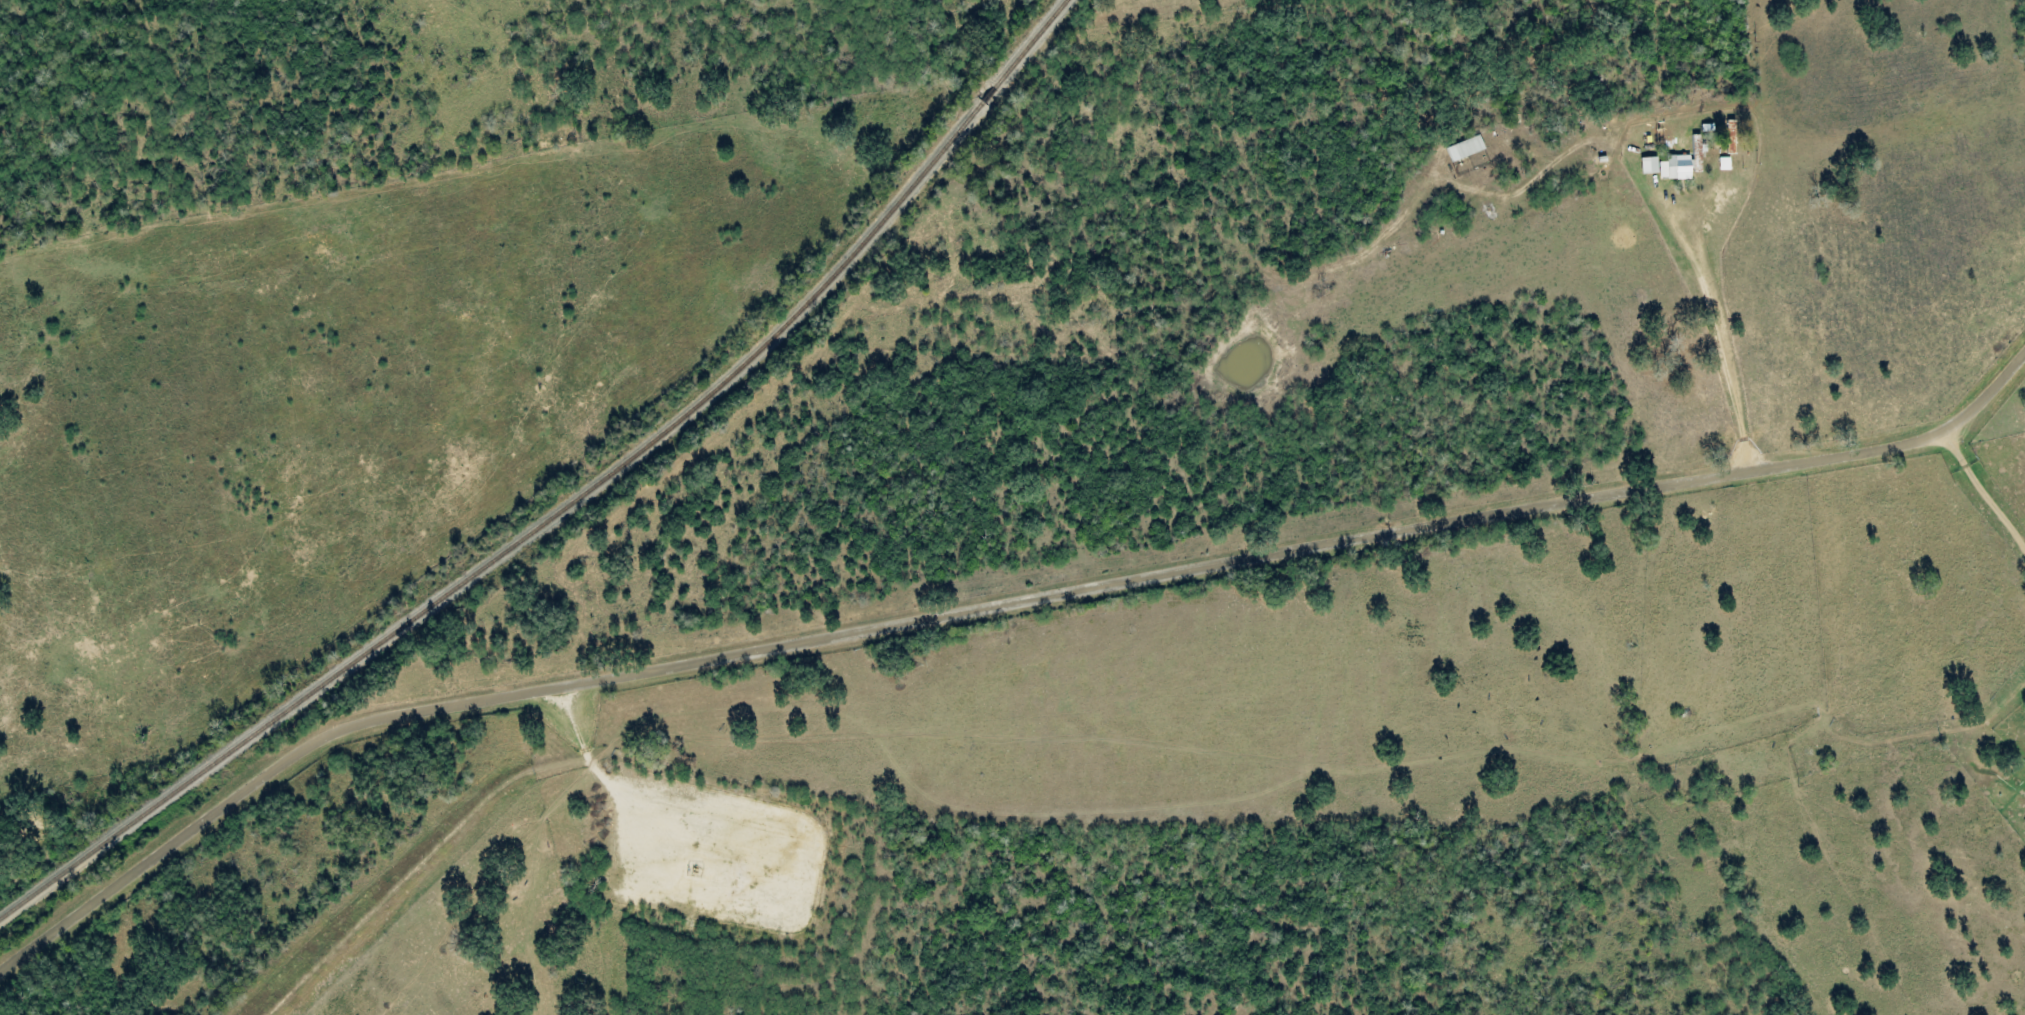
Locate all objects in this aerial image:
building: (1466, 149)
building: (1678, 164)
building: (1725, 164)
road: (1683, 352)
railway: (571, 501)
road: (1979, 505)
road: (990, 606)
building: (2023, 767)
road: (1619, 778)

